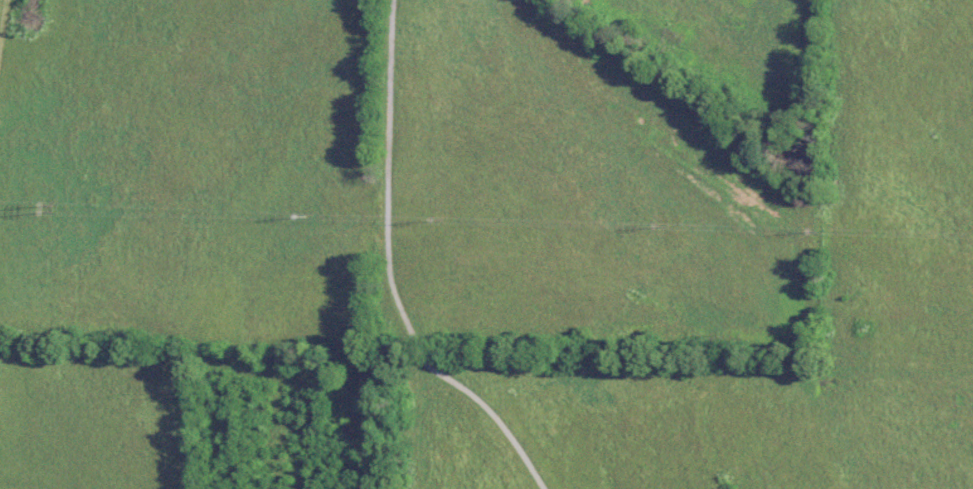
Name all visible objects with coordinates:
road: (394, 273)

